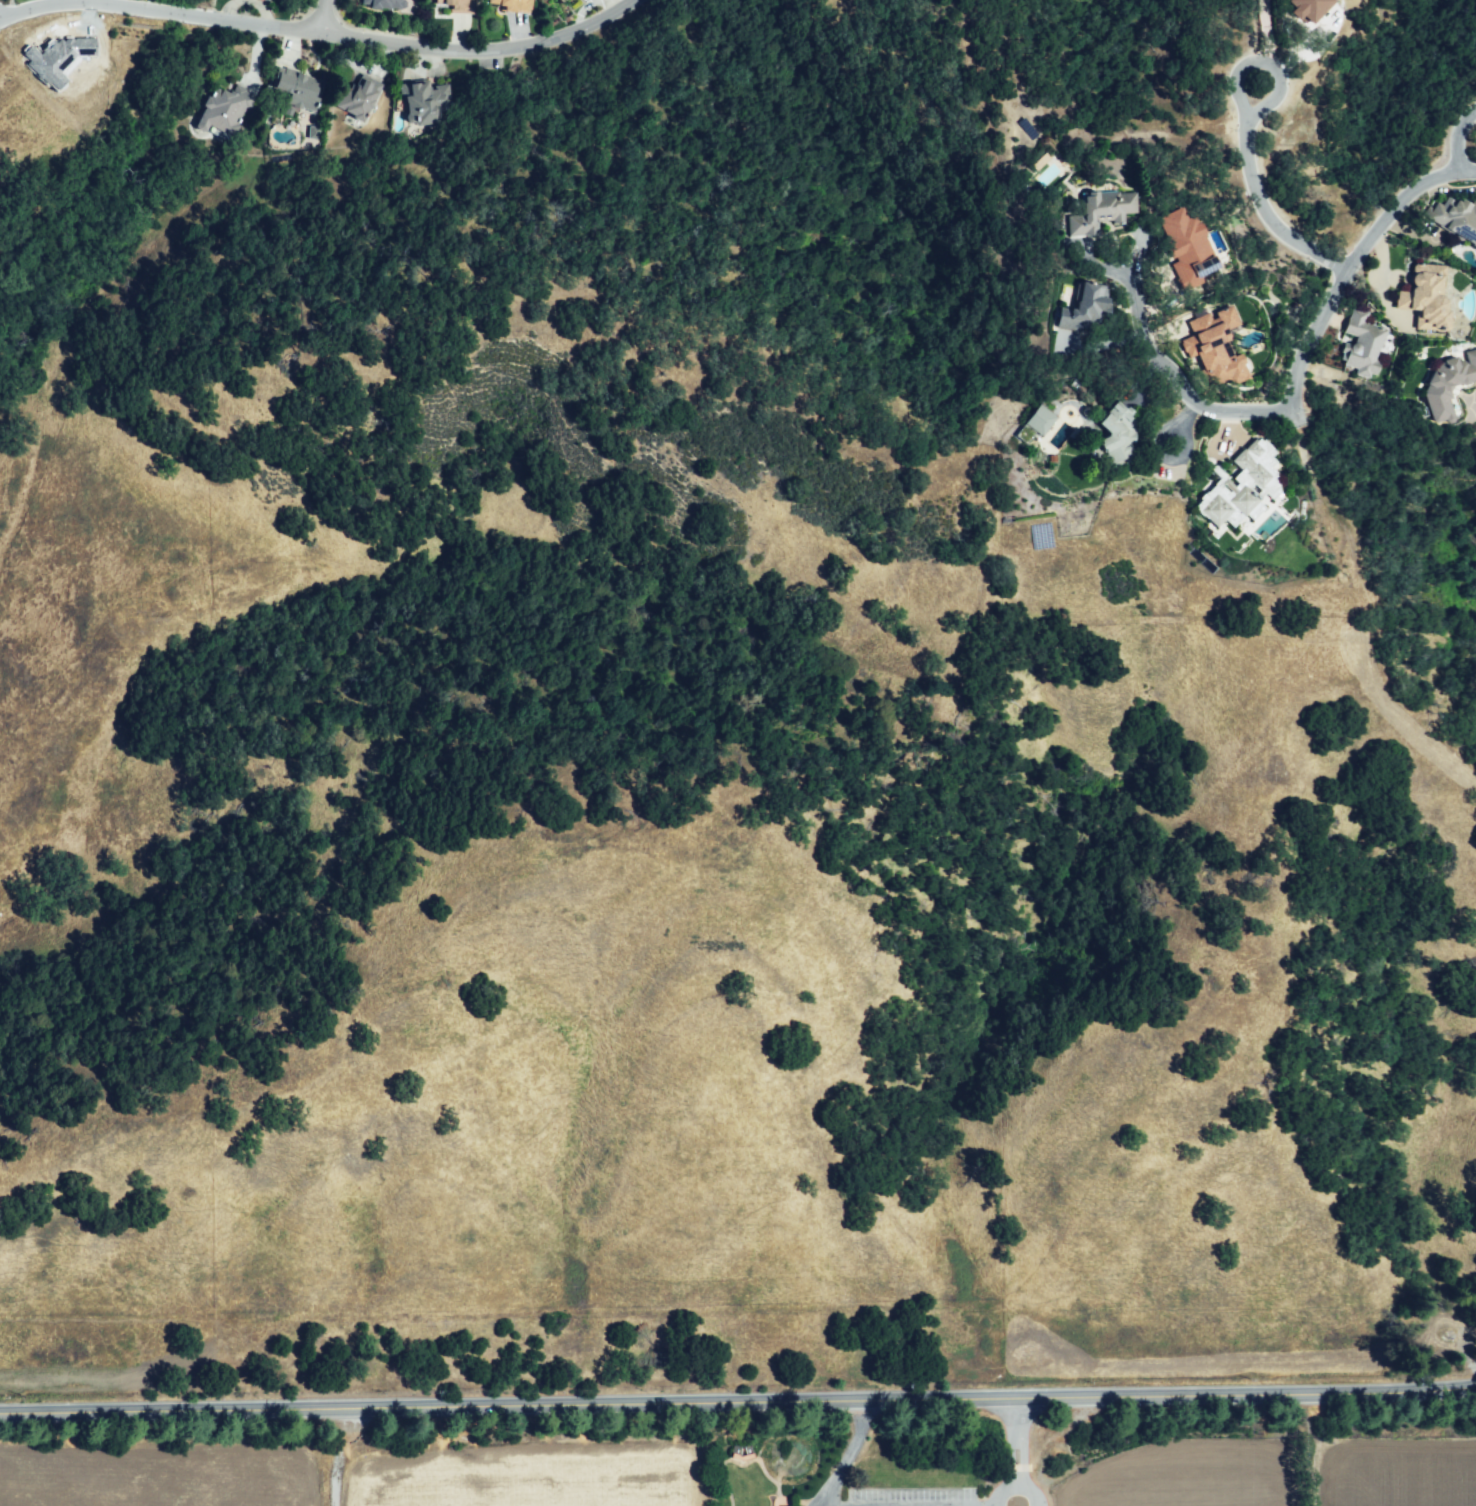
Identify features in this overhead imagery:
building: (569, 1)
building: (388, 4)
building: (461, 5)
building: (517, 6)
building: (1306, 7)
road: (323, 16)
road: (320, 31)
road: (1265, 31)
building: (300, 91)
building: (359, 97)
road: (1271, 97)
building: (419, 101)
building: (226, 110)
road: (1455, 136)
road: (1465, 171)
road: (1270, 206)
building: (1104, 210)
building: (1451, 223)
building: (1185, 247)
building: (1417, 300)
building: (1092, 308)
road: (1319, 312)
building: (1452, 325)
building: (1356, 344)
building: (1218, 348)
road: (1170, 373)
building: (1445, 384)
road: (1187, 411)
building: (1038, 419)
building: (1122, 434)
road: (1189, 450)
building: (1245, 487)
road: (738, 1404)
road: (1311, 1450)
road: (1008, 1452)
road: (846, 1456)
road: (332, 1461)
crop: (524, 1474)
crop: (172, 1475)
parking lot: (907, 1496)
road: (827, 1503)

